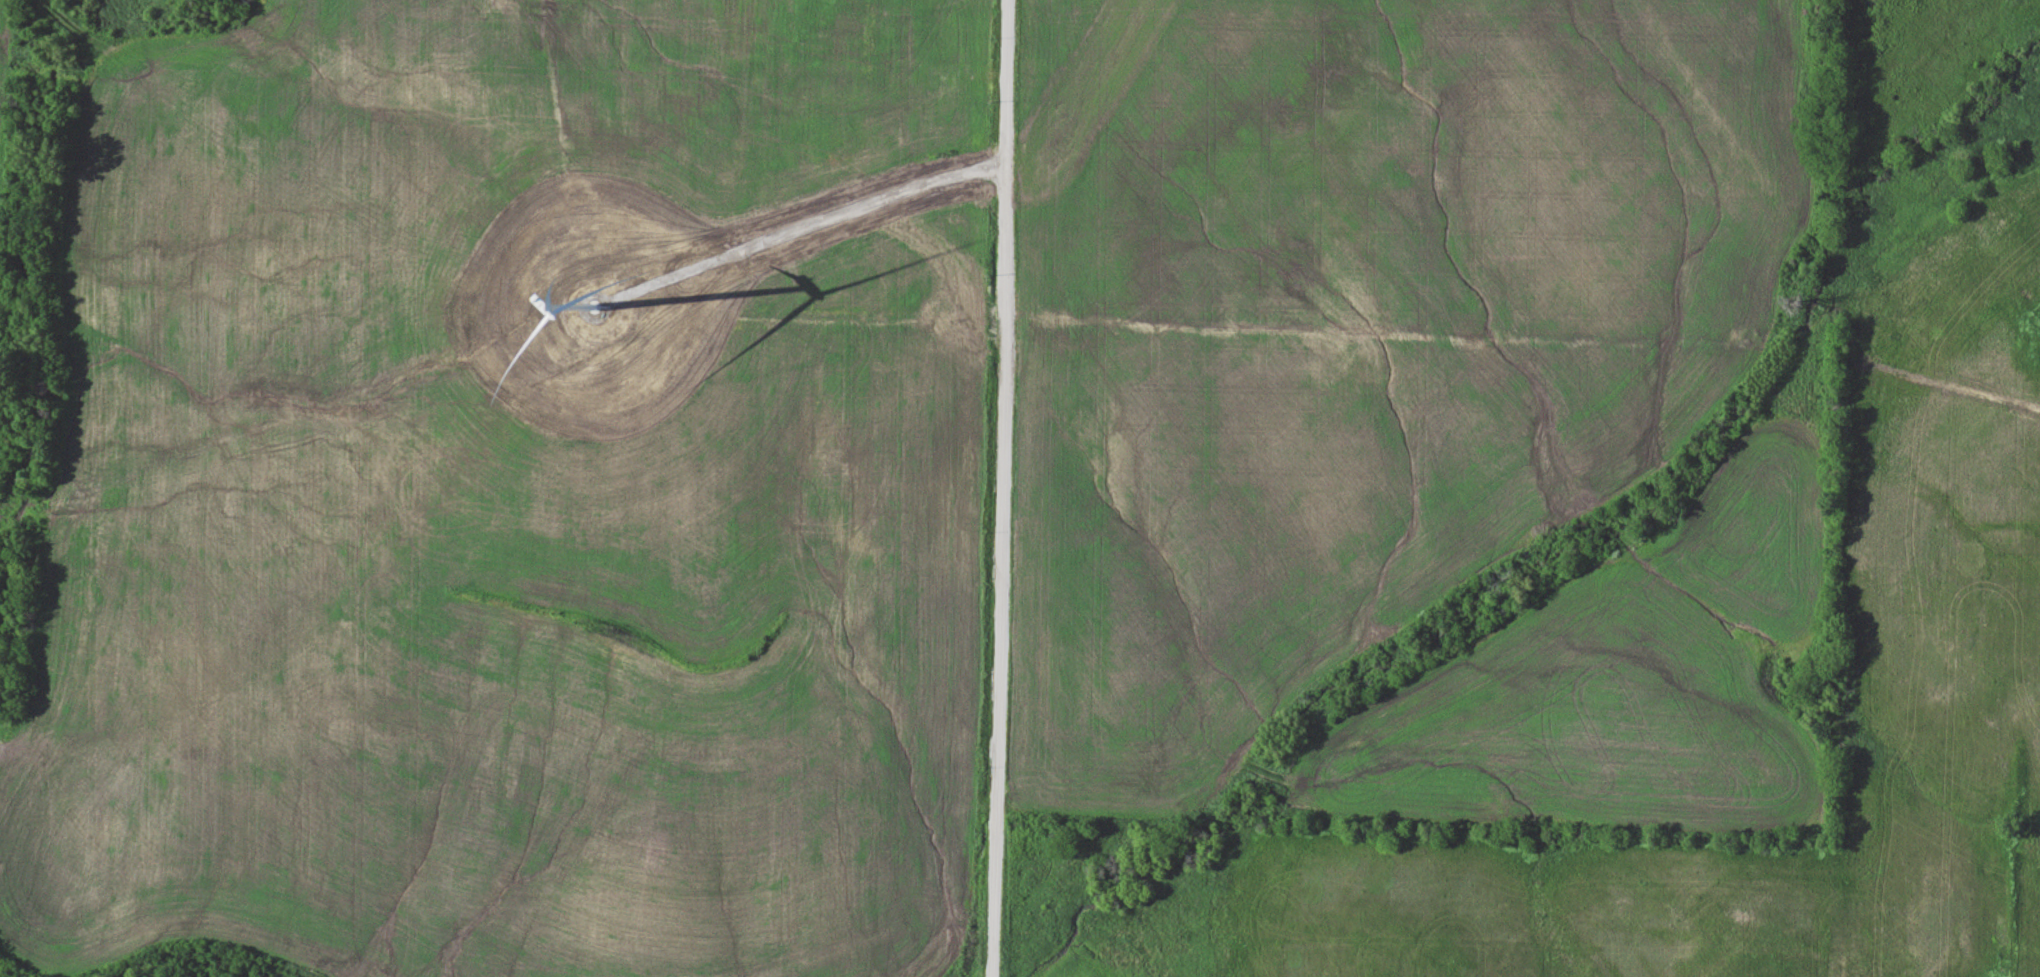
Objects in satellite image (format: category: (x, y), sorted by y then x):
wind turbine: (597, 312)
road: (998, 488)

